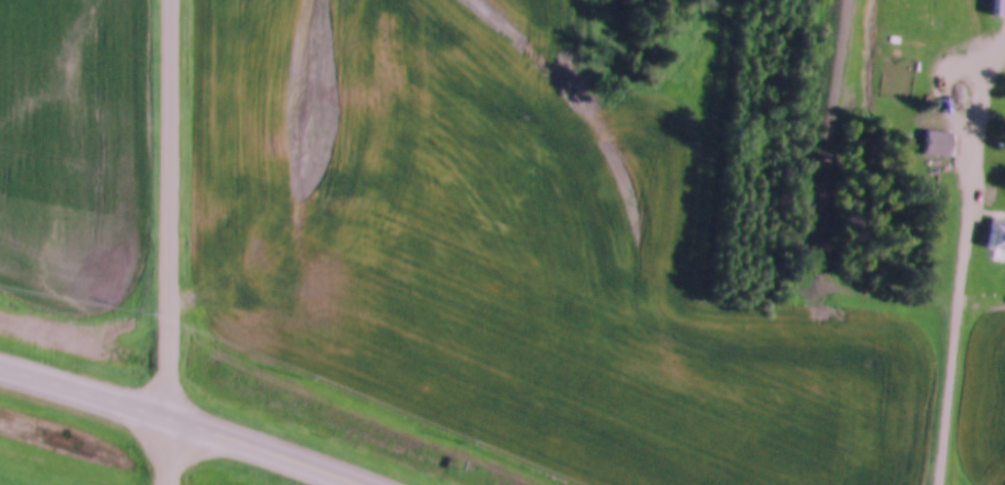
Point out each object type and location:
building: (999, 9)
road: (169, 209)
building: (992, 234)
road: (963, 293)
road: (175, 422)
road: (167, 452)

